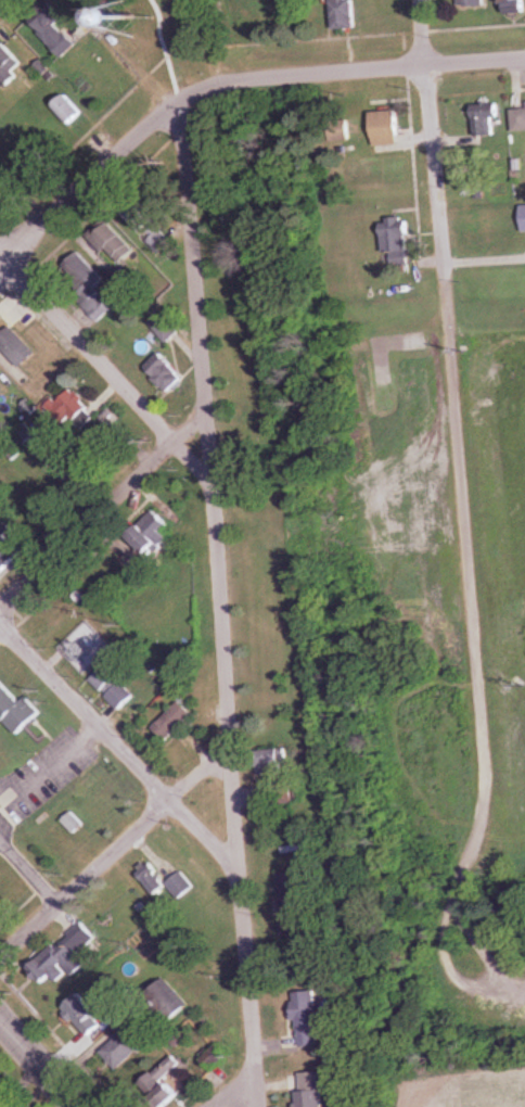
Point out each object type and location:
building: (475, 3)
building: (514, 7)
building: (344, 14)
road: (85, 17)
water tower: (128, 18)
building: (54, 27)
road: (422, 33)
building: (10, 65)
road: (230, 84)
building: (68, 111)
building: (518, 117)
building: (484, 122)
building: (387, 128)
road: (436, 180)
building: (5, 190)
building: (524, 217)
building: (139, 219)
building: (397, 239)
building: (116, 245)
building: (79, 269)
building: (98, 309)
building: (164, 329)
building: (17, 347)
road: (106, 370)
building: (164, 373)
building: (1, 387)
building: (75, 412)
road: (102, 517)
building: (153, 533)
building: (11, 548)
road: (217, 605)
building: (112, 688)
building: (15, 709)
building: (171, 724)
road: (118, 748)
building: (273, 764)
building: (281, 797)
road: (110, 854)
building: (151, 880)
building: (8, 895)
building: (295, 908)
building: (73, 945)
building: (86, 1015)
building: (307, 1020)
building: (126, 1047)
road: (39, 1063)
building: (216, 1067)
building: (164, 1076)
road: (234, 1096)
building: (310, 1099)

